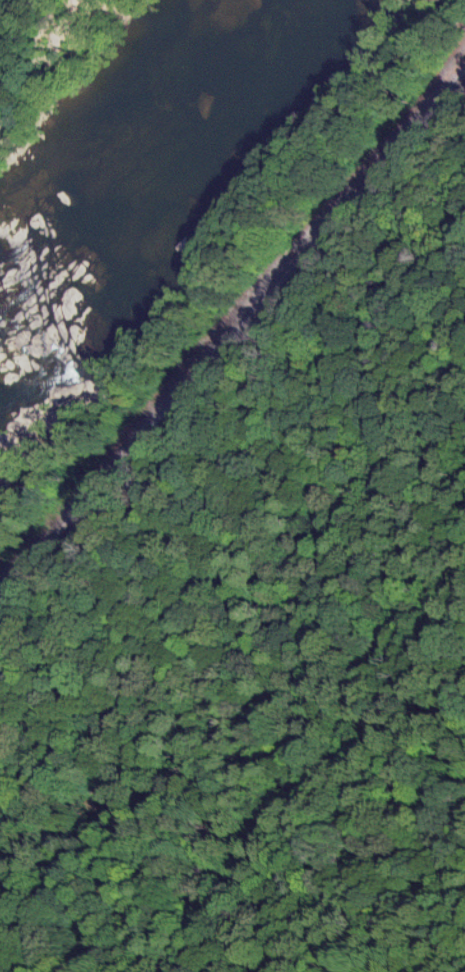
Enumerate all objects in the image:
river: (131, 154)
railway: (234, 333)
railway: (234, 348)

